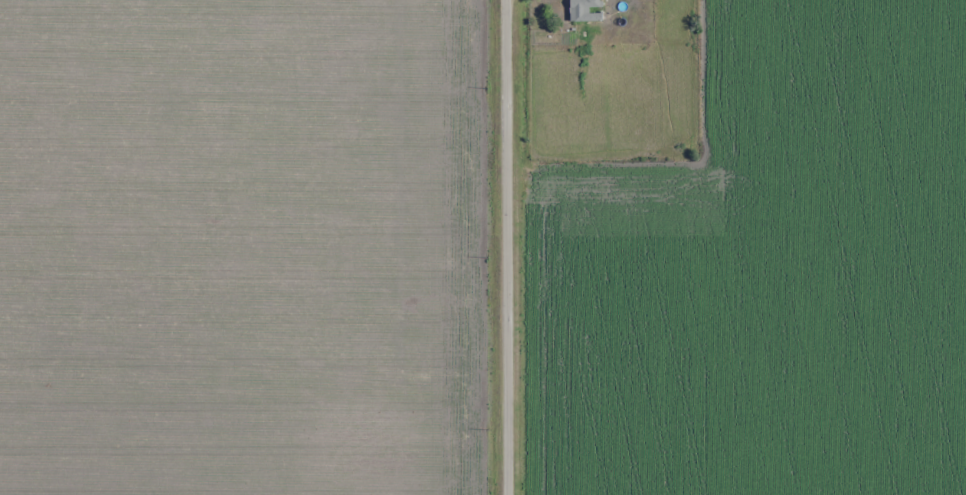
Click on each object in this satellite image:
road: (505, 247)

